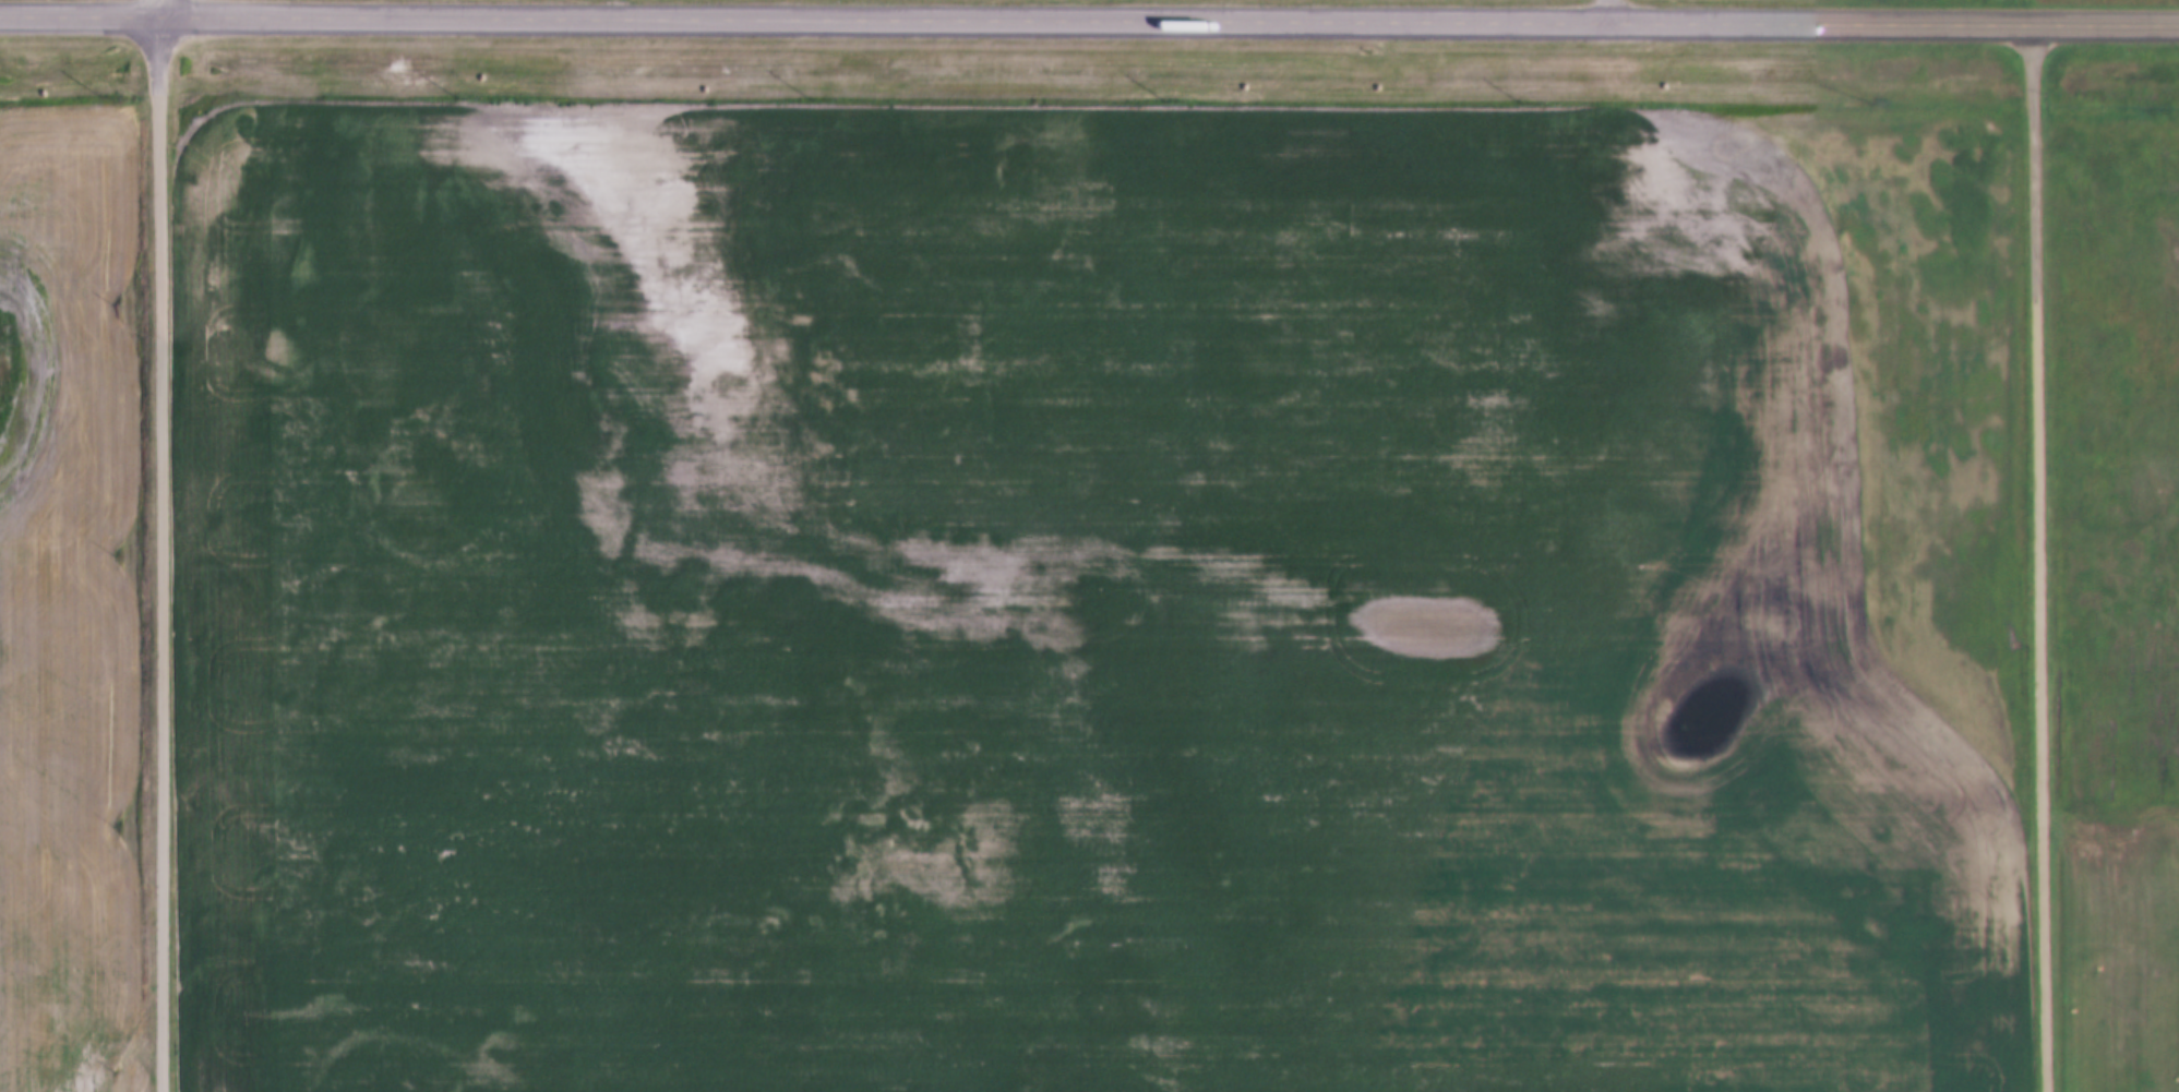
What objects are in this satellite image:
road: (165, 5)
road: (1089, 15)
building: (1842, 21)
road: (165, 551)
road: (2045, 555)

